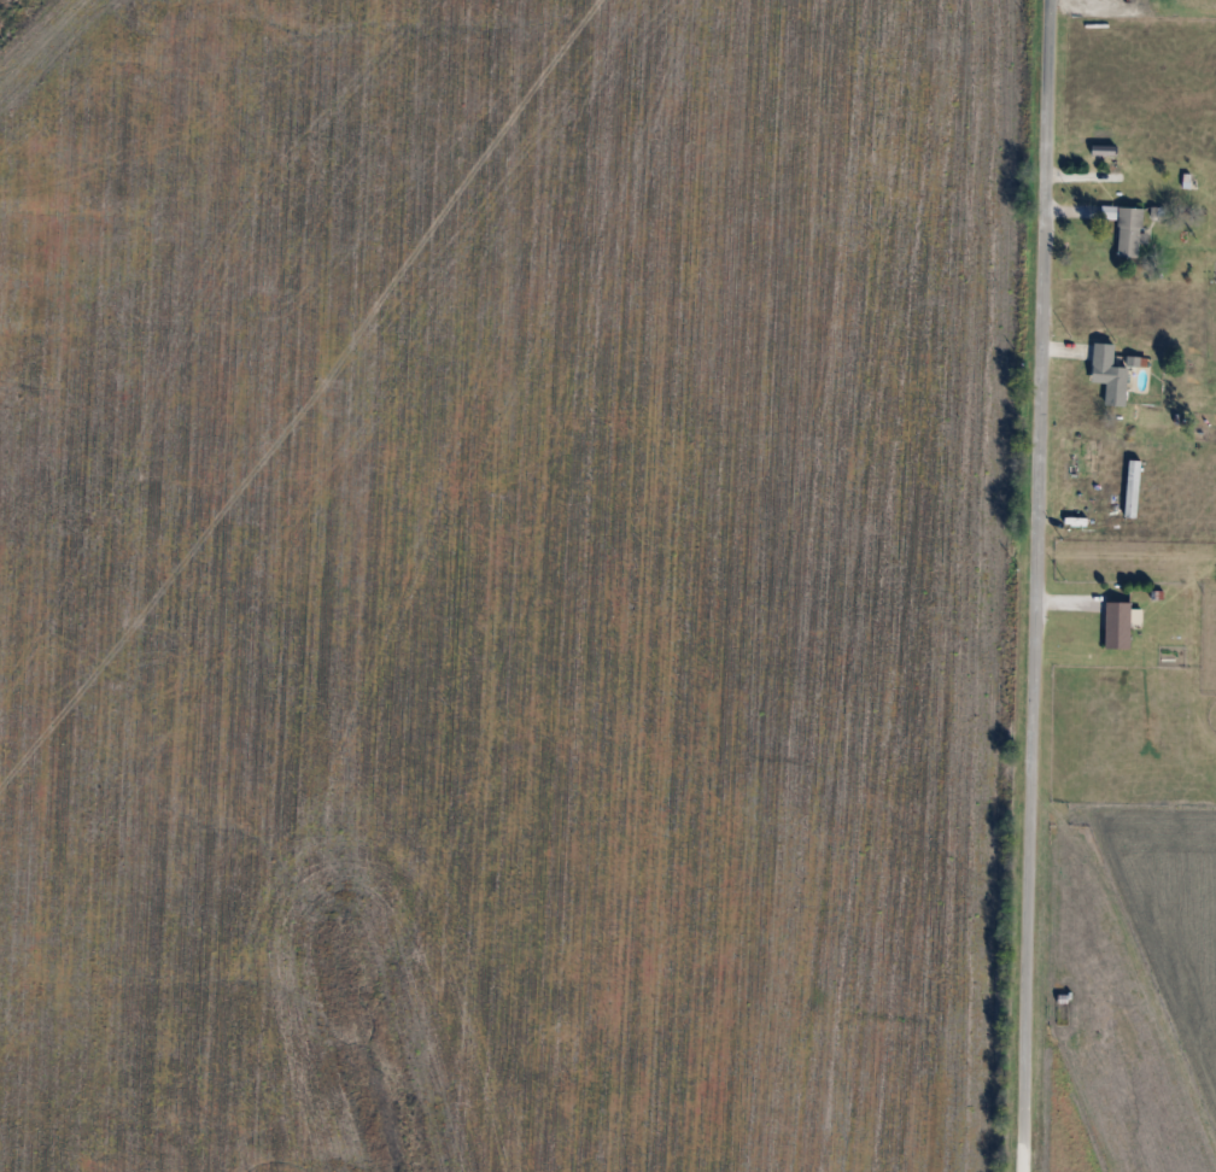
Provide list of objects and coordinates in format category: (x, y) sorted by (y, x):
building: (1124, 229)
building: (1107, 374)
road: (1035, 572)
building: (1116, 625)
road: (1021, 1158)

